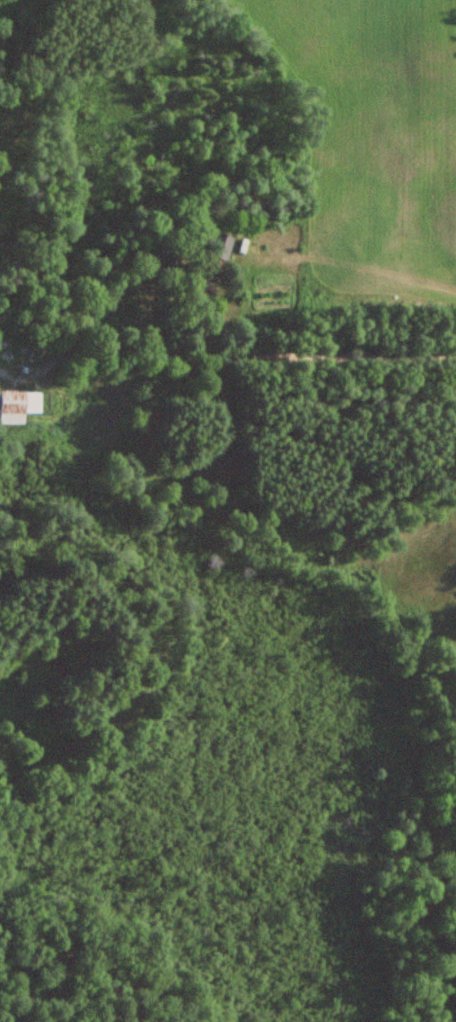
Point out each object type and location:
building: (219, 244)
building: (20, 406)

